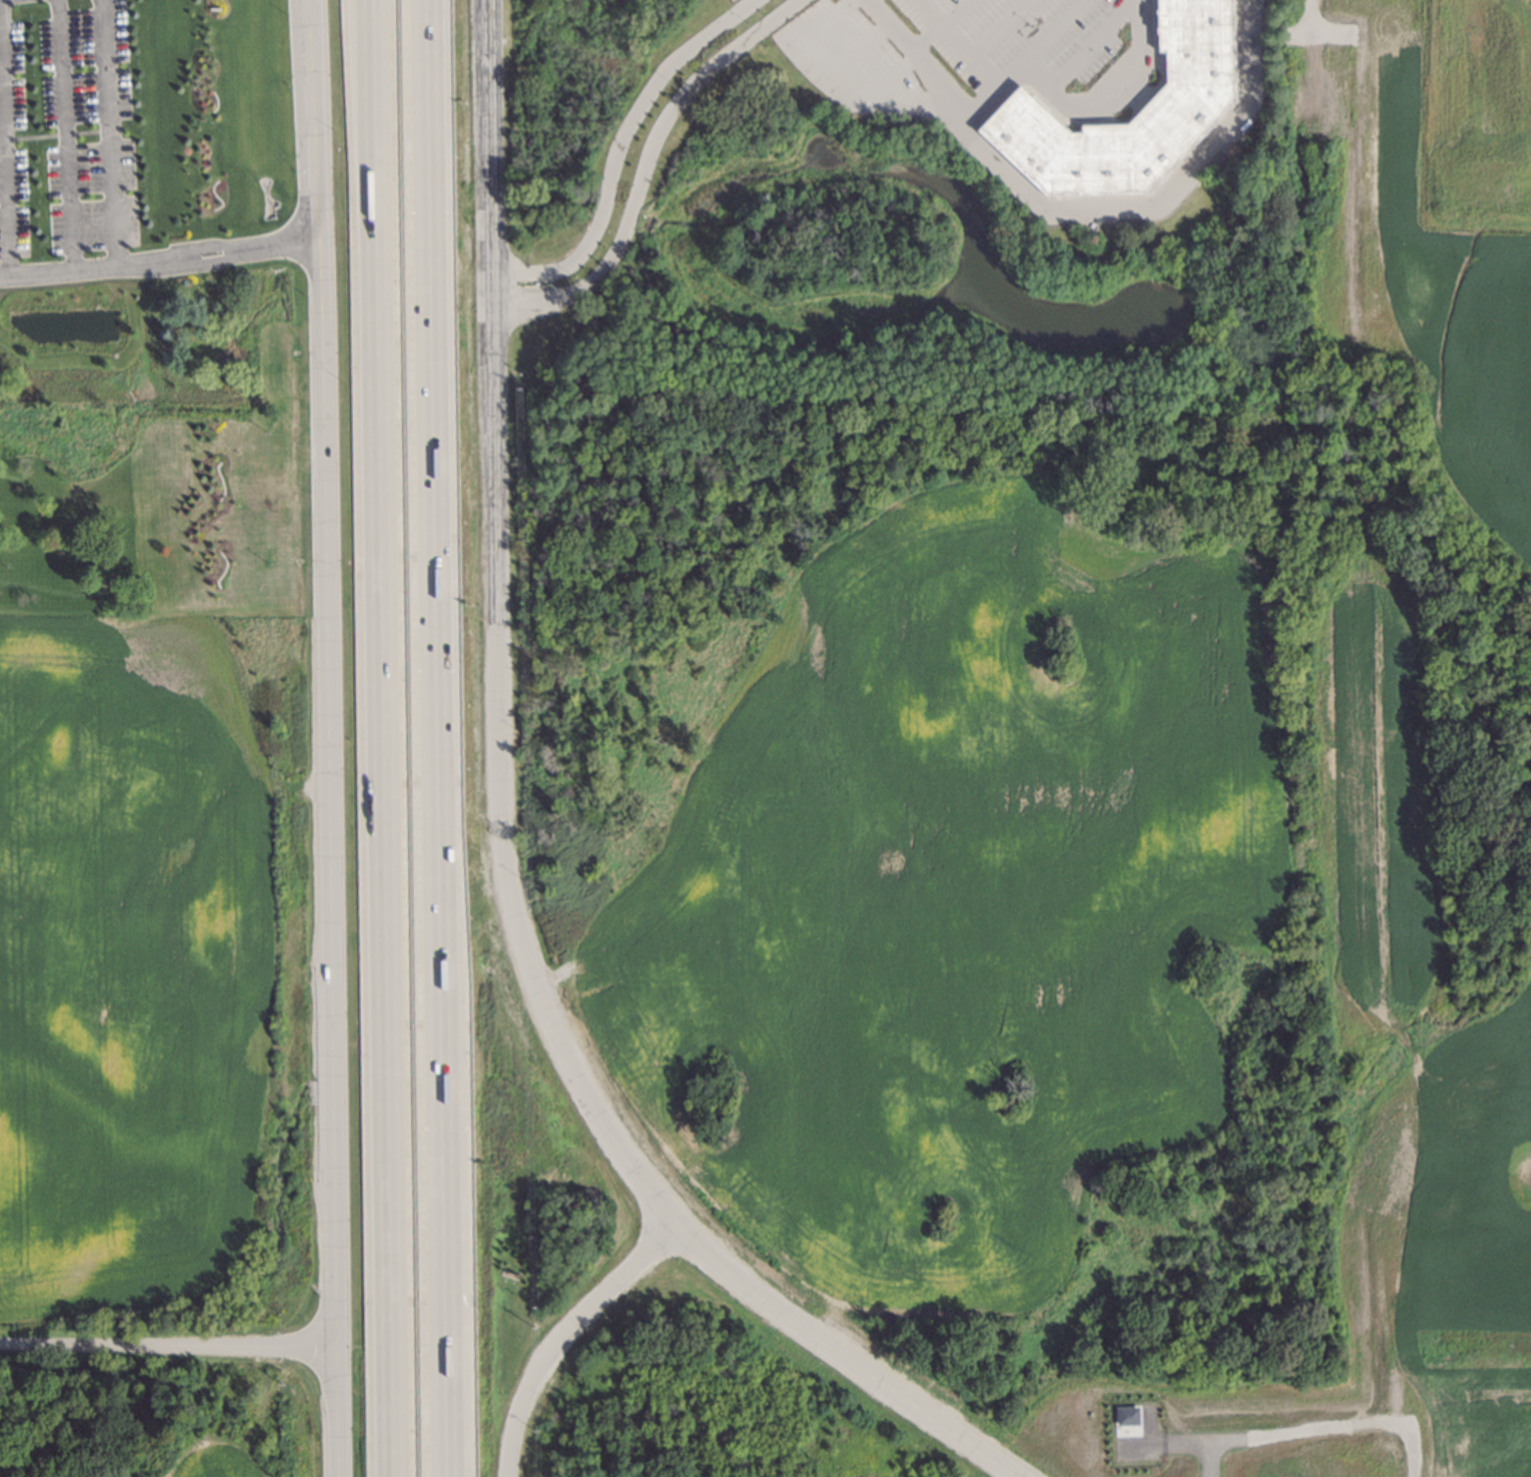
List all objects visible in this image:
parking lot: (729, 1)
road: (368, 10)
road: (997, 29)
road: (1054, 33)
building: (793, 35)
road: (956, 44)
road: (1092, 46)
parking lot: (947, 49)
road: (854, 50)
road: (909, 51)
road: (1015, 72)
road: (833, 85)
building: (1195, 94)
road: (107, 132)
road: (65, 134)
road: (3, 151)
road: (617, 151)
road: (642, 167)
road: (1157, 204)
road: (158, 259)
road: (317, 280)
road: (434, 646)
road: (381, 738)
road: (500, 846)
crop: (156, 977)
road: (332, 1018)
road: (560, 1332)
road: (167, 1346)
road: (445, 1384)

